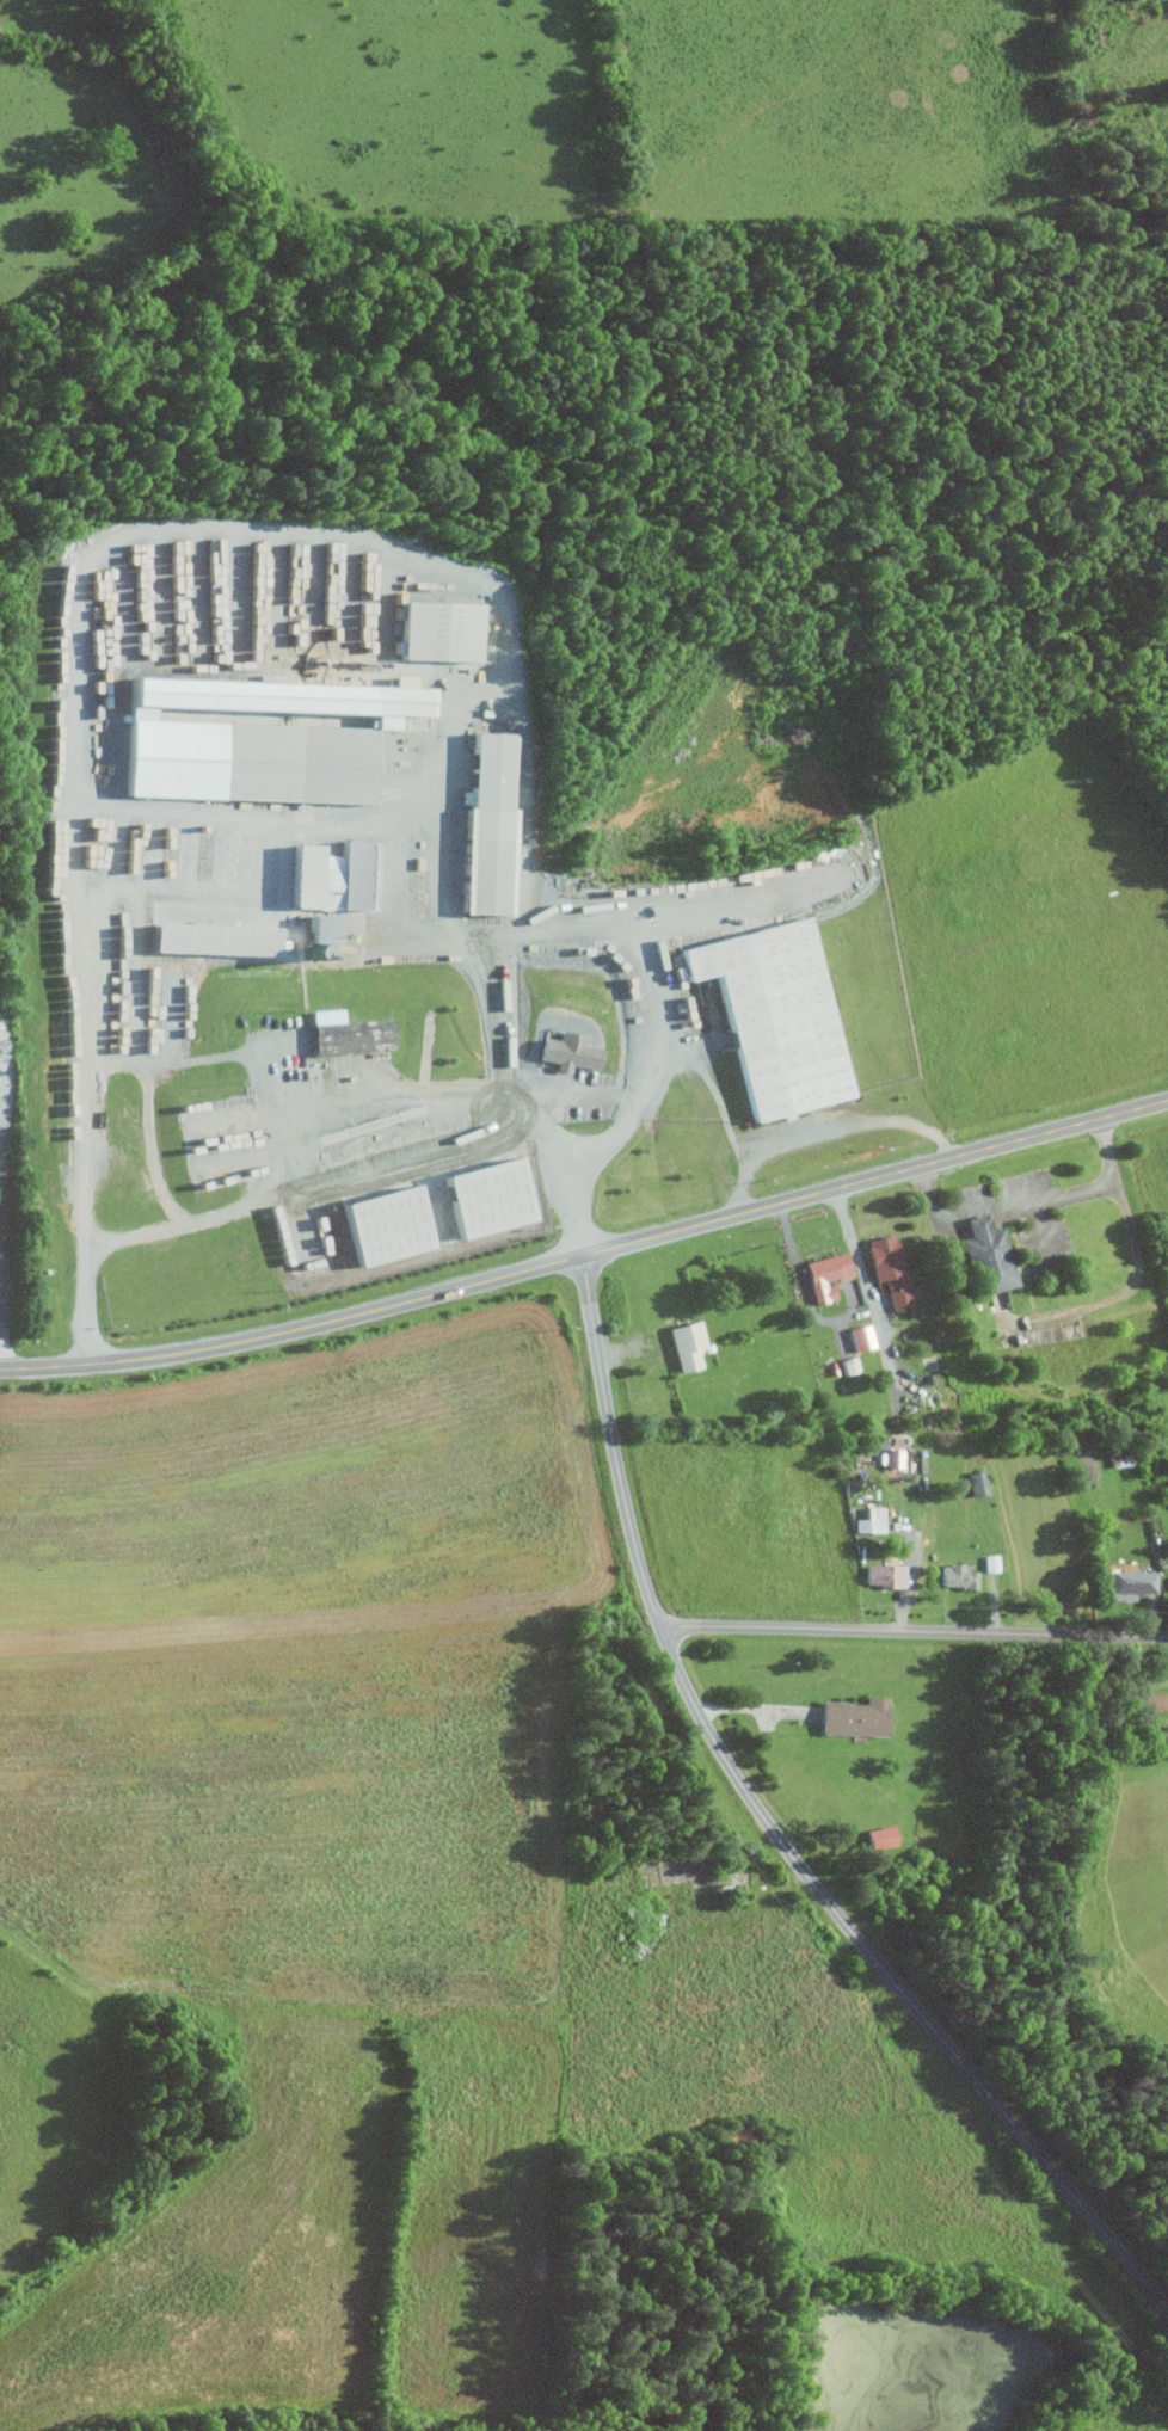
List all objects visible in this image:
building: (436, 628)
building: (254, 737)
building: (485, 824)
building: (326, 875)
road: (671, 915)
building: (319, 928)
building: (210, 937)
road: (494, 968)
building: (773, 1015)
building: (346, 1032)
building: (566, 1051)
road: (657, 1063)
road: (584, 1090)
road: (825, 1122)
road: (383, 1138)
building: (485, 1196)
road: (1032, 1199)
parking lot: (1025, 1212)
building: (382, 1224)
road: (119, 1238)
building: (990, 1254)
road: (588, 1256)
building: (893, 1267)
building: (831, 1274)
road: (1133, 1287)
road: (806, 1292)
road: (869, 1293)
building: (861, 1336)
building: (690, 1342)
building: (849, 1365)
building: (977, 1482)
building: (869, 1520)
building: (991, 1563)
building: (890, 1574)
building: (963, 1576)
building: (1137, 1581)
road: (914, 1633)
building: (1147, 1700)
building: (859, 1716)
road: (776, 1834)
building: (880, 1836)

